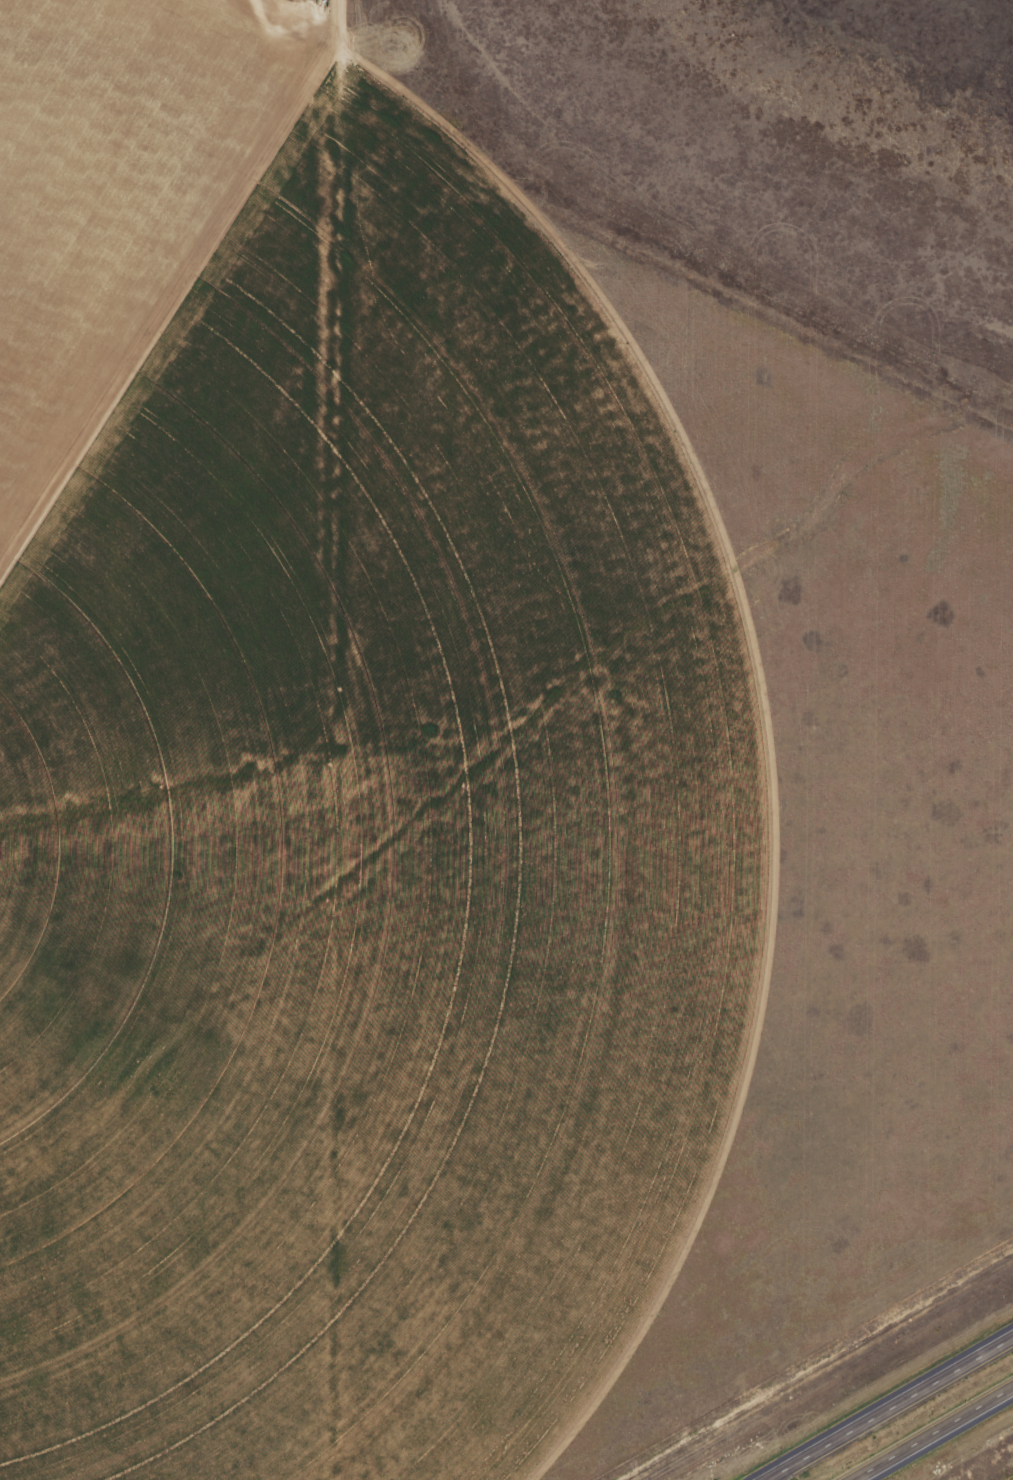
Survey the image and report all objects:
road: (888, 1407)
road: (938, 1436)

